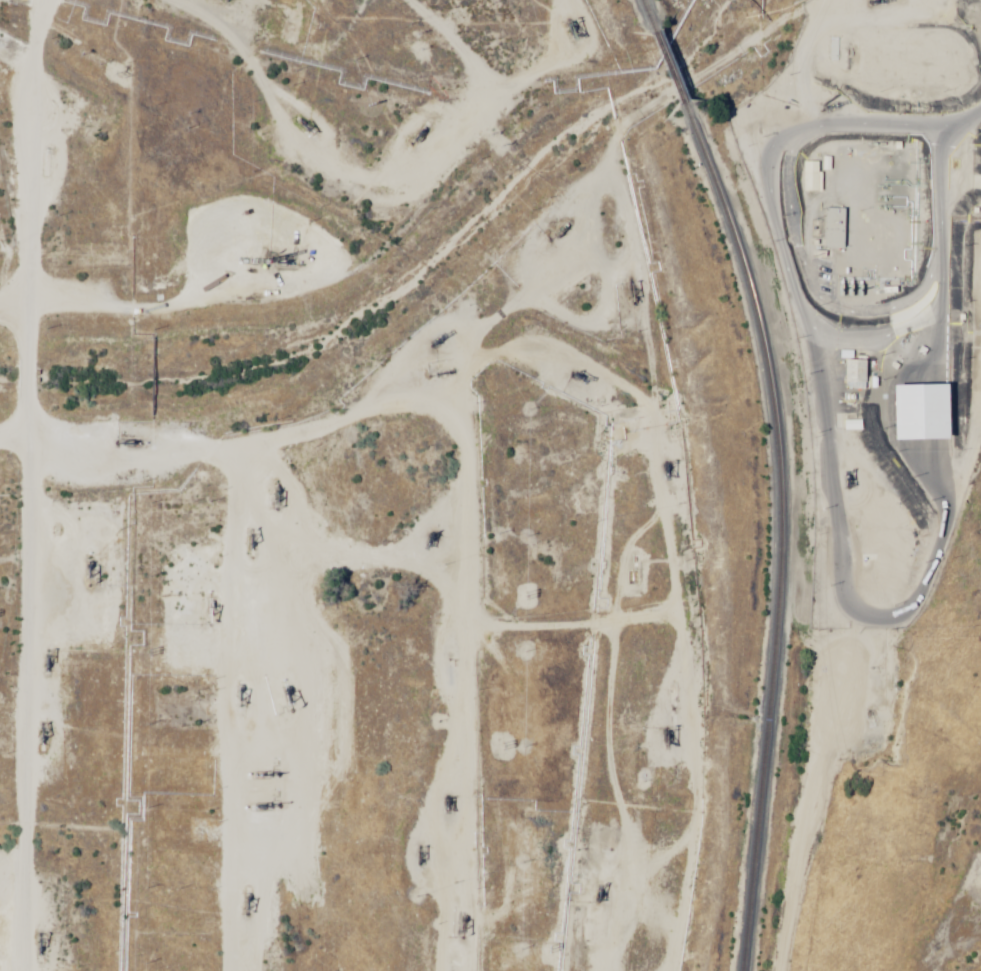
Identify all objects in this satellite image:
railway: (649, 15)
railway: (669, 67)
road: (212, 90)
road: (3, 117)
building: (835, 229)
road: (321, 254)
road: (773, 293)
road: (454, 330)
road: (583, 337)
railway: (767, 367)
building: (855, 373)
road: (898, 517)
building: (868, 572)
road: (308, 641)
road: (432, 654)
road: (615, 707)
road: (185, 711)
railway: (759, 808)

